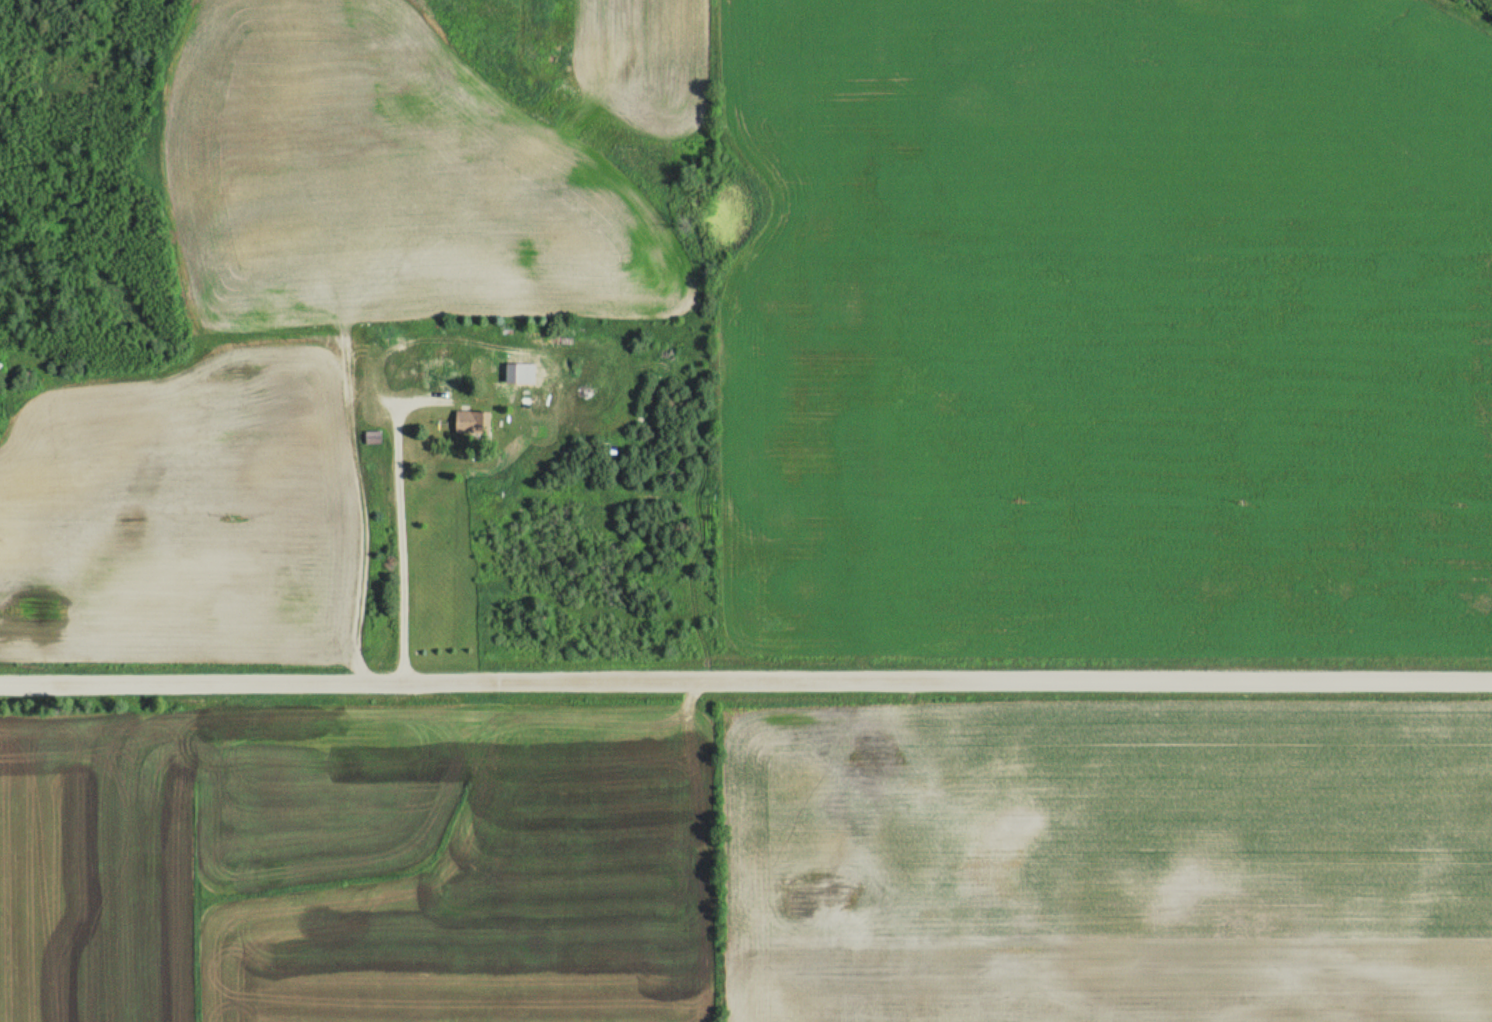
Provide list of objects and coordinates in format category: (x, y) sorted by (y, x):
building: (444, 354)
building: (442, 377)
building: (471, 421)
building: (372, 436)
road: (401, 514)
road: (746, 682)

